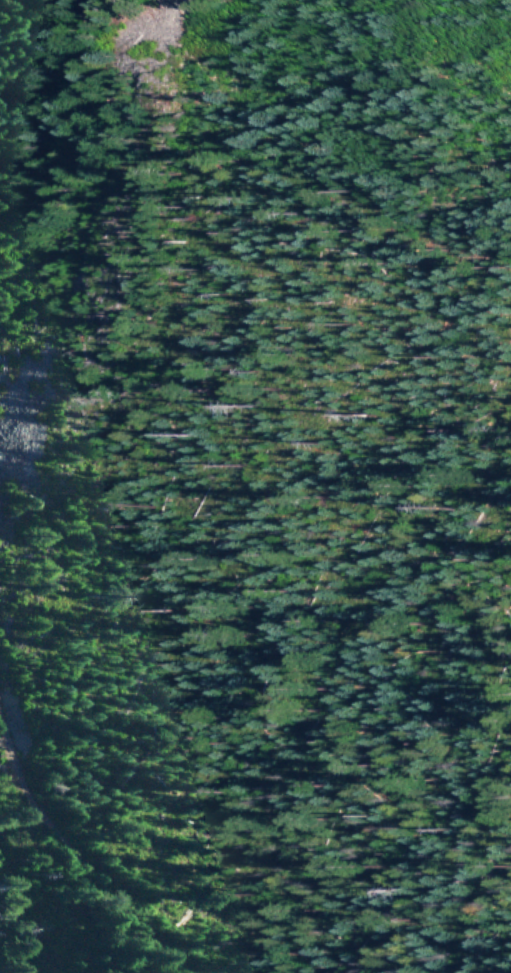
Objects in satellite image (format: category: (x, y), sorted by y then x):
road: (75, 855)

